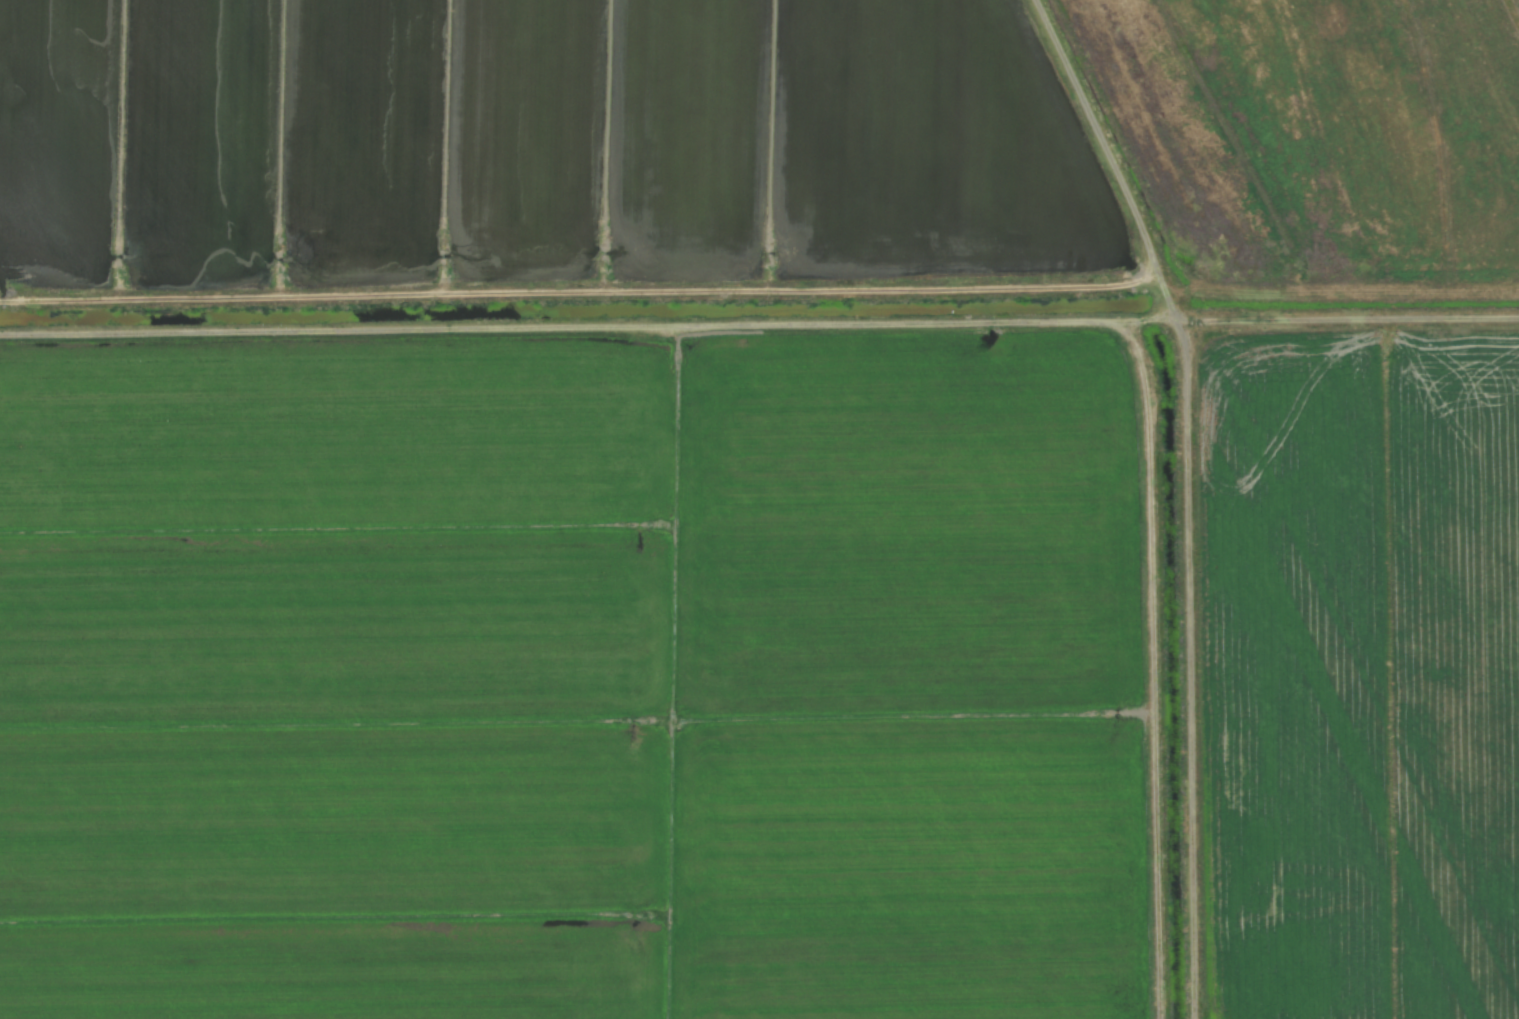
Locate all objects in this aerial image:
crop: (759, 509)

